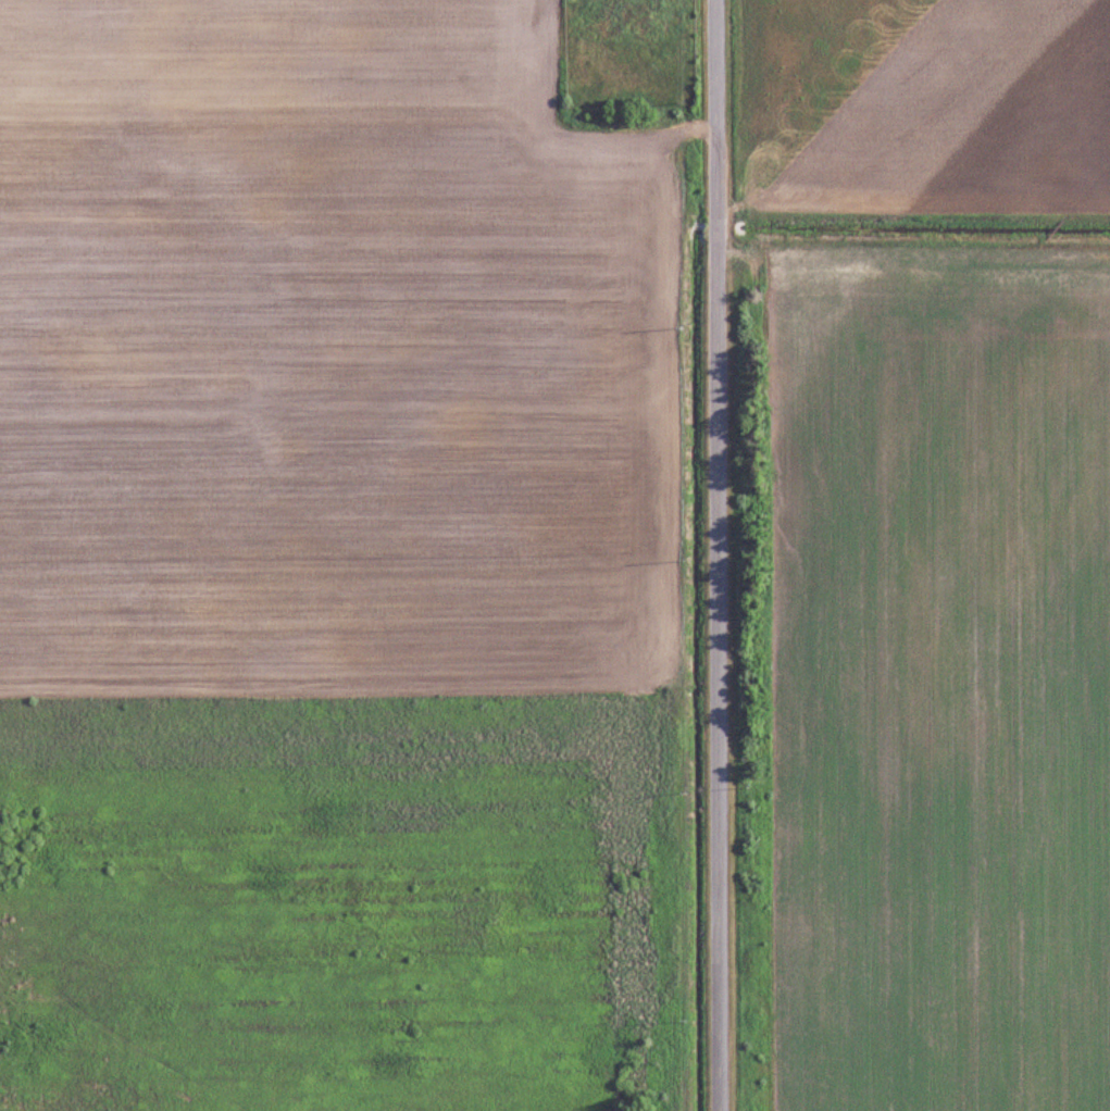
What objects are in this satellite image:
road: (716, 554)

